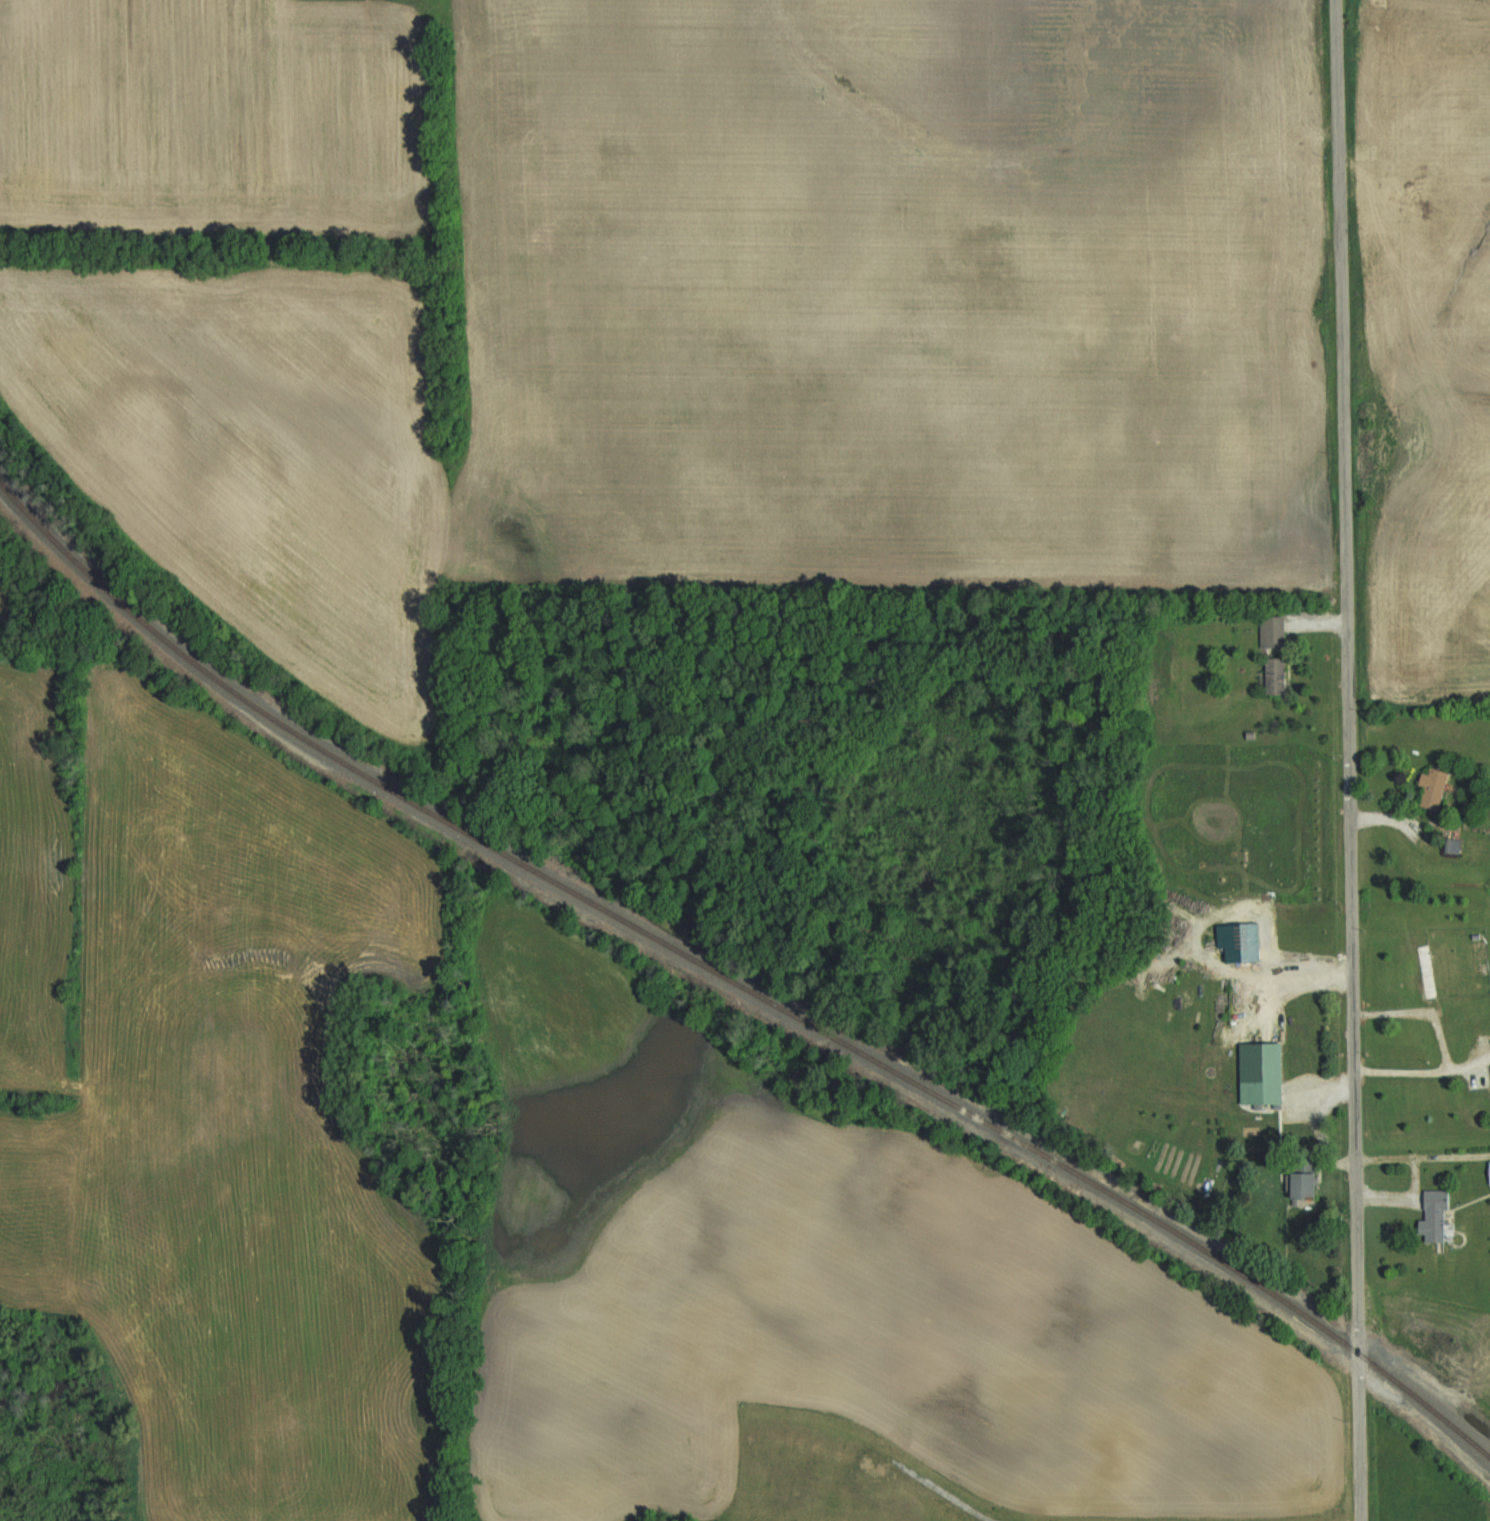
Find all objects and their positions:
building: (1268, 630)
building: (1270, 675)
road: (1347, 760)
building: (1428, 786)
building: (1449, 845)
building: (1424, 971)
railway: (734, 981)
building: (1489, 1070)
building: (1257, 1074)
road: (1318, 1126)
road: (1423, 1155)
building: (1487, 1172)
building: (1297, 1181)
building: (1430, 1215)

